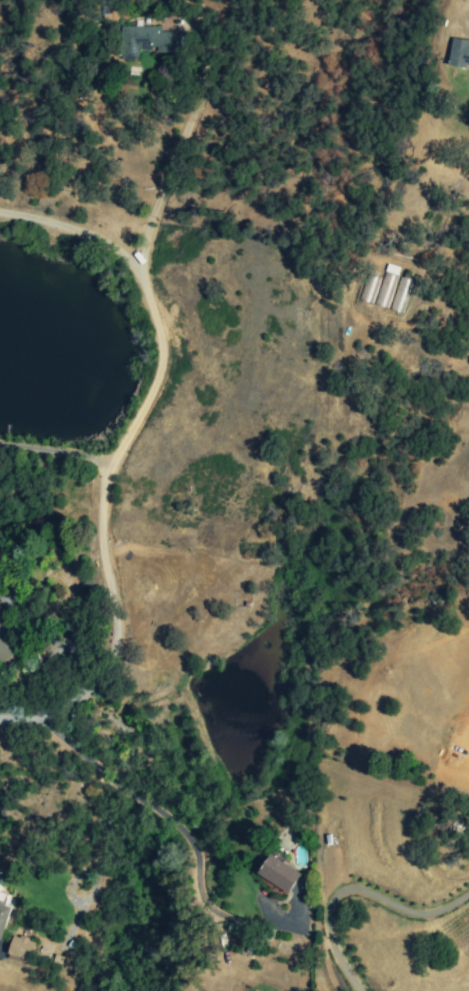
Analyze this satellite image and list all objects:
building: (144, 41)
building: (459, 54)
road: (202, 65)
road: (160, 200)
building: (368, 288)
building: (385, 289)
building: (400, 294)
road: (115, 450)
road: (54, 451)
building: (6, 646)
road: (179, 833)
building: (278, 873)
road: (353, 890)
building: (3, 917)
building: (20, 949)

